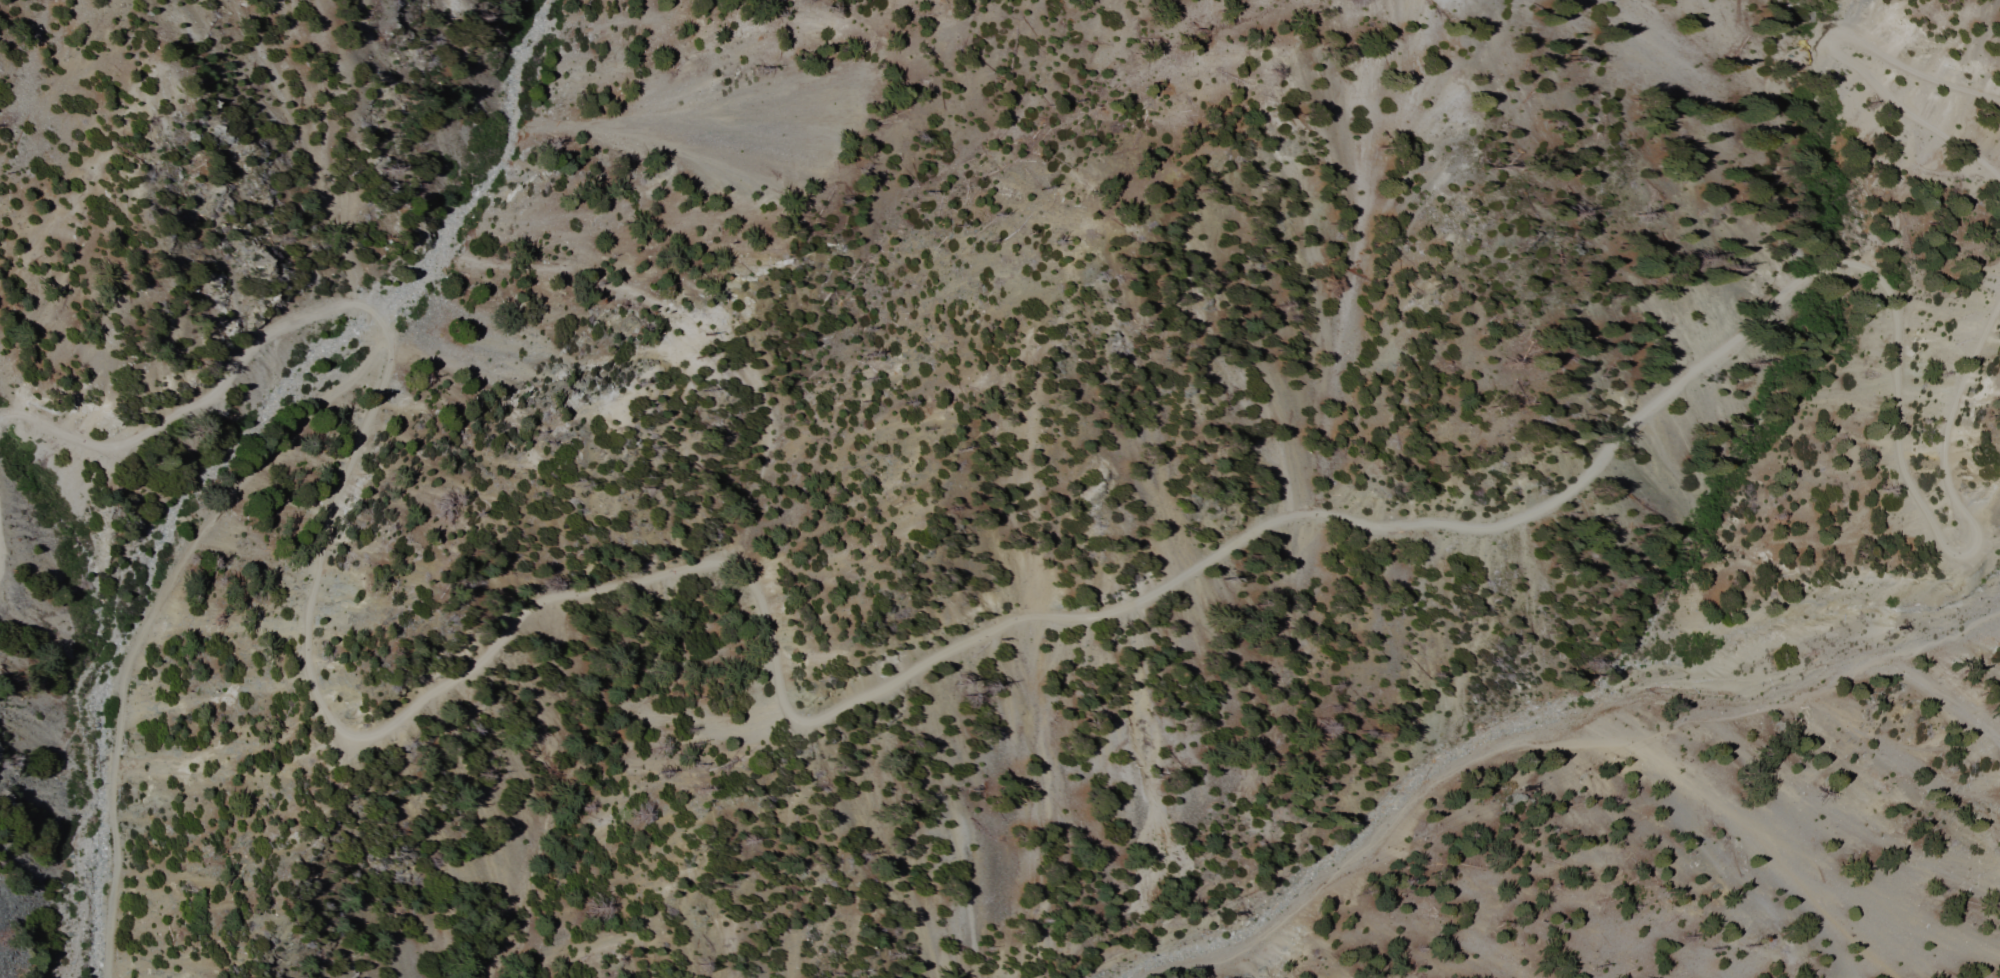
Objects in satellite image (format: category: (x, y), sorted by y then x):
road: (1835, 56)
road: (1982, 552)
ski resort: (1127, 615)
road: (152, 617)
aerialway pylon: (1893, 630)
road: (945, 649)
aerialway pylon: (1769, 684)
aerialway pylon: (1527, 789)
aerialway pylon: (1237, 915)

